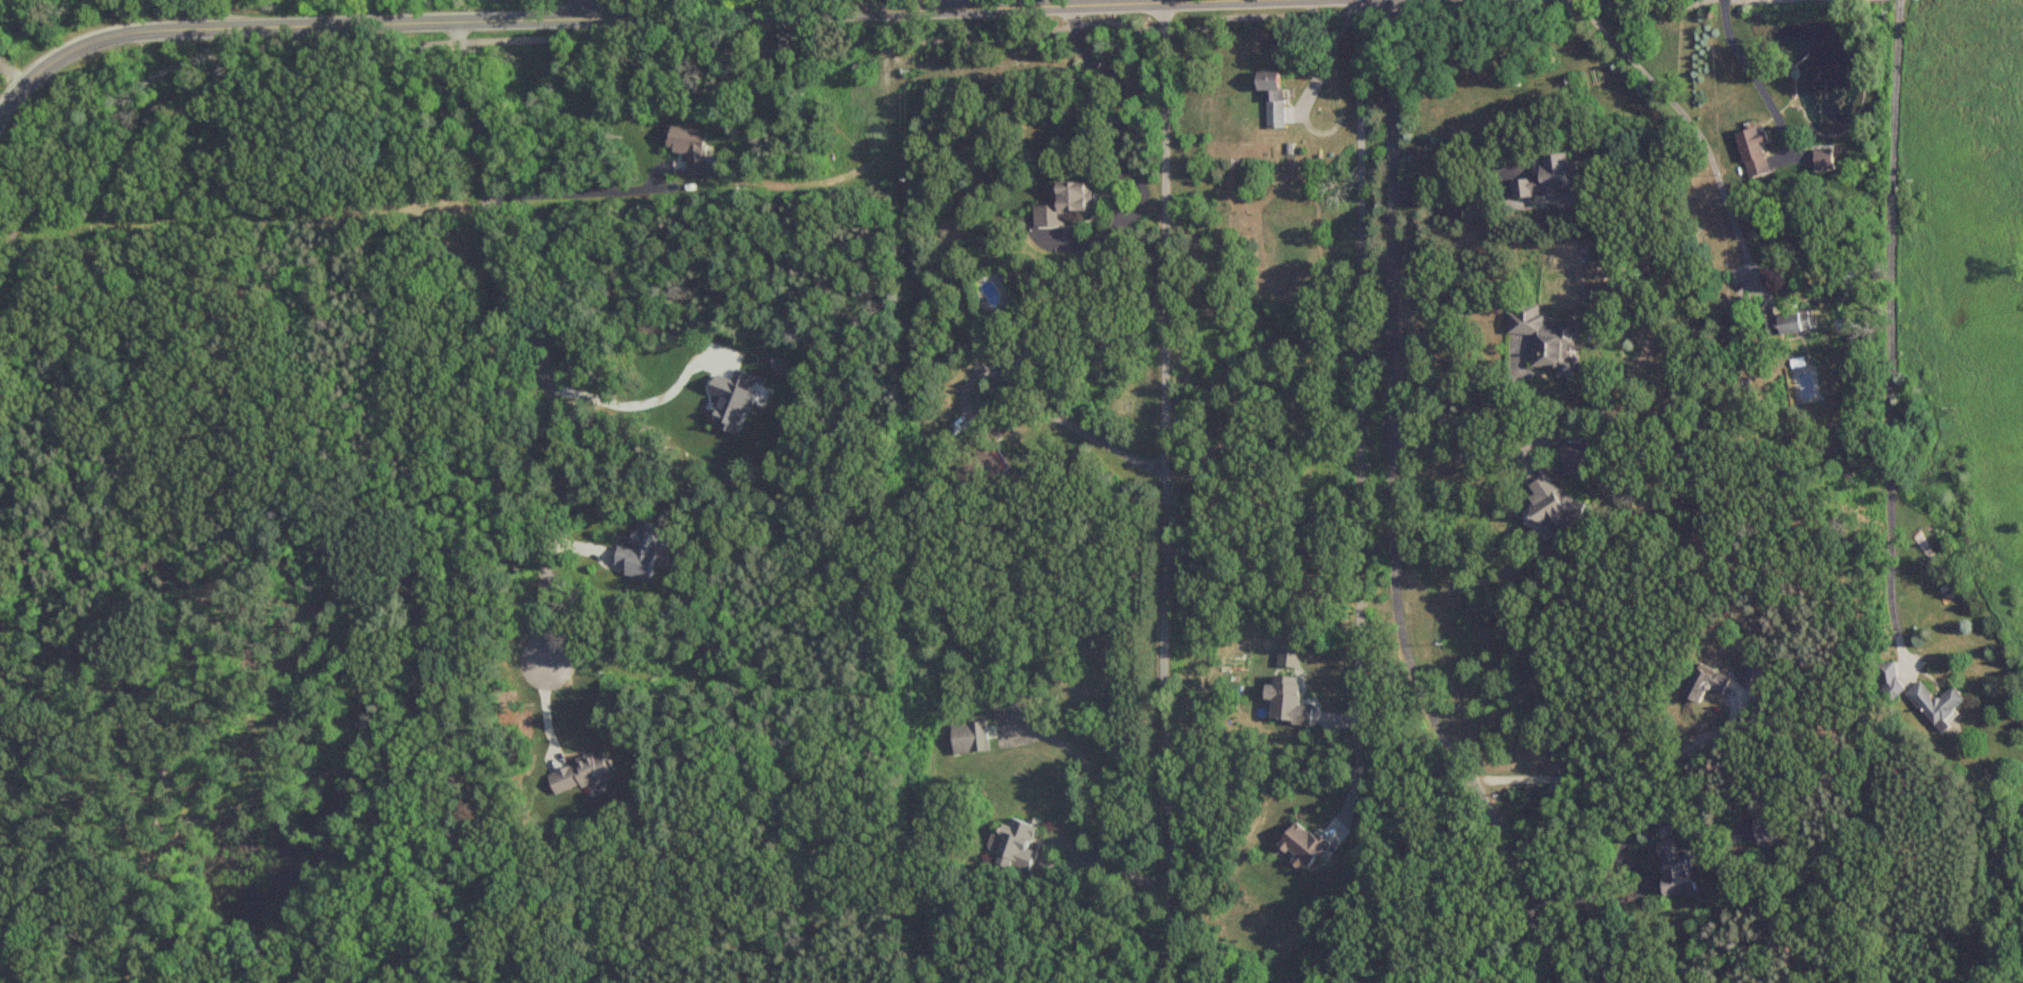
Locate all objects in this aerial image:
building: (1880, 0)
road: (1167, 1)
road: (955, 5)
road: (717, 8)
road: (585, 10)
road: (208, 14)
road: (621, 19)
road: (1142, 28)
road: (528, 41)
road: (179, 64)
road: (1753, 79)
road: (1121, 95)
building: (1272, 100)
road: (1695, 129)
building: (1753, 154)
building: (1823, 160)
building: (1548, 180)
road: (571, 186)
road: (1460, 200)
building: (1063, 205)
building: (1788, 324)
road: (1893, 331)
building: (1545, 339)
road: (539, 360)
road: (1359, 402)
road: (643, 410)
road: (1477, 415)
road: (1005, 417)
road: (3, 419)
road: (1453, 455)
building: (1578, 459)
building: (987, 469)
road: (1169, 493)
building: (1553, 507)
road: (1395, 508)
building: (1288, 658)
building: (1762, 677)
building: (1889, 681)
building: (1705, 683)
building: (1286, 700)
building: (1935, 703)
road: (2, 708)
building: (968, 738)
building: (580, 774)
road: (1616, 779)
building: (1764, 832)
building: (1016, 844)
building: (1303, 846)
road: (1087, 855)
building: (1675, 872)
road: (0, 896)
road: (1579, 899)

